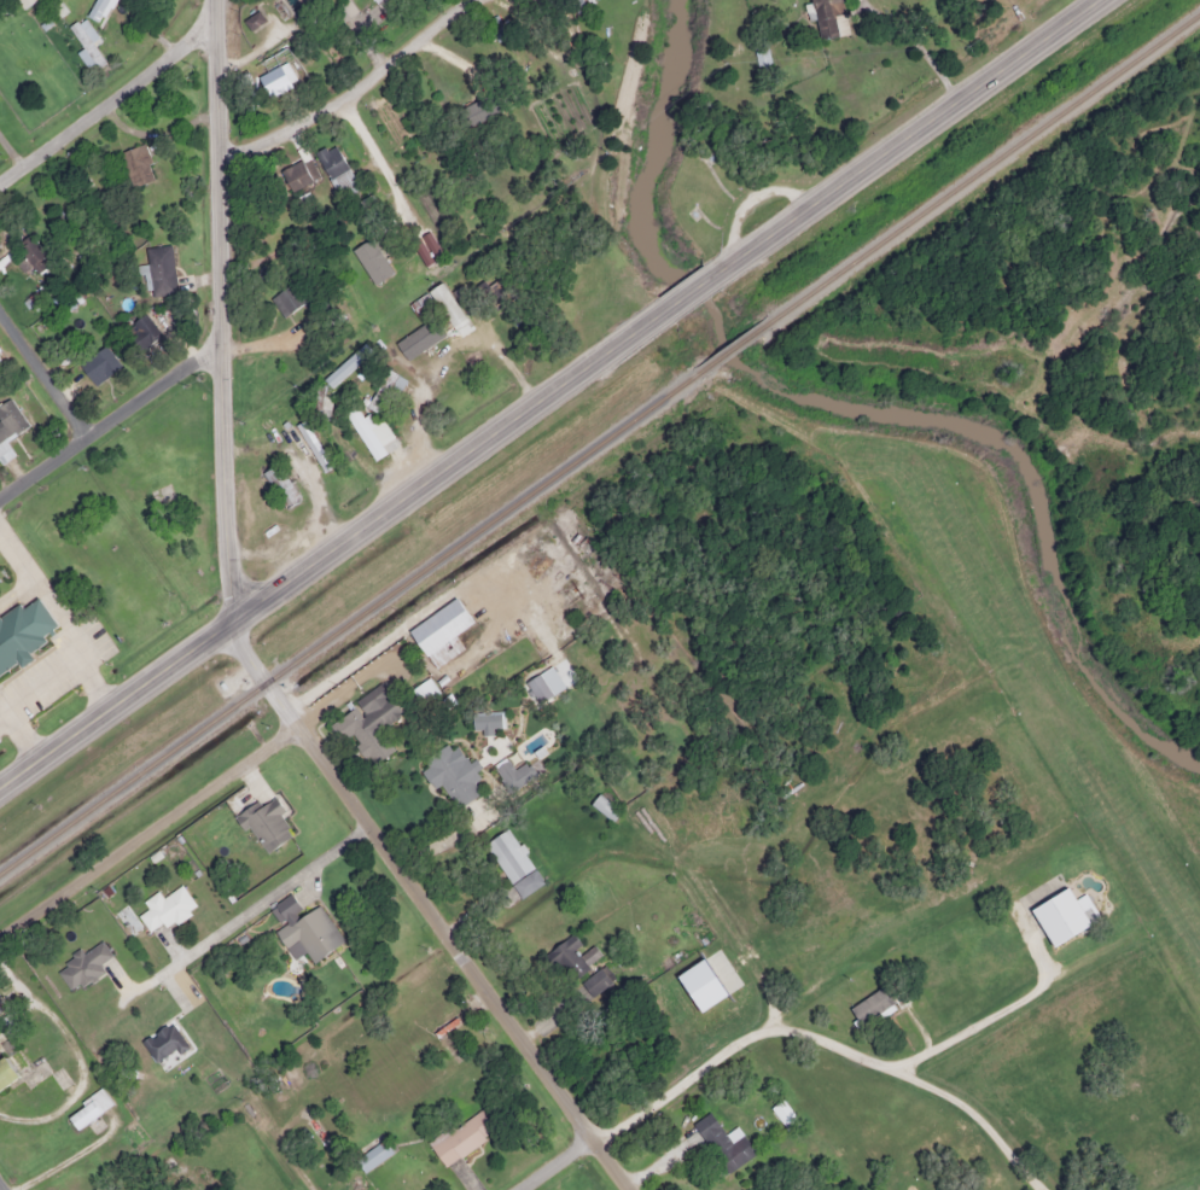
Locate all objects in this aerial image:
building: (384, 4)
building: (94, 13)
building: (829, 17)
building: (252, 18)
building: (761, 57)
building: (276, 82)
road: (353, 89)
road: (106, 99)
road: (892, 150)
building: (136, 164)
railway: (983, 164)
road: (373, 165)
building: (336, 169)
building: (297, 173)
building: (31, 251)
building: (159, 269)
building: (287, 297)
building: (418, 303)
building: (447, 304)
road: (217, 313)
building: (142, 329)
railway: (730, 345)
building: (98, 363)
building: (342, 369)
road: (41, 371)
building: (384, 387)
building: (324, 407)
road: (106, 416)
building: (8, 419)
building: (304, 438)
building: (355, 448)
building: (279, 484)
road: (340, 543)
railway: (348, 622)
building: (22, 631)
building: (441, 631)
building: (424, 690)
building: (363, 727)
building: (450, 775)
building: (512, 775)
building: (604, 807)
building: (264, 824)
road: (147, 830)
building: (512, 862)
road: (430, 908)
building: (163, 909)
road: (254, 912)
building: (1060, 916)
building: (309, 933)
building: (571, 957)
building: (82, 966)
building: (594, 981)
building: (870, 1005)
road: (833, 1037)
building: (6, 1072)
building: (86, 1112)
building: (782, 1112)
building: (460, 1136)
building: (722, 1143)
building: (372, 1153)
road: (558, 1161)
road: (301, 1165)
road: (4, 1184)

